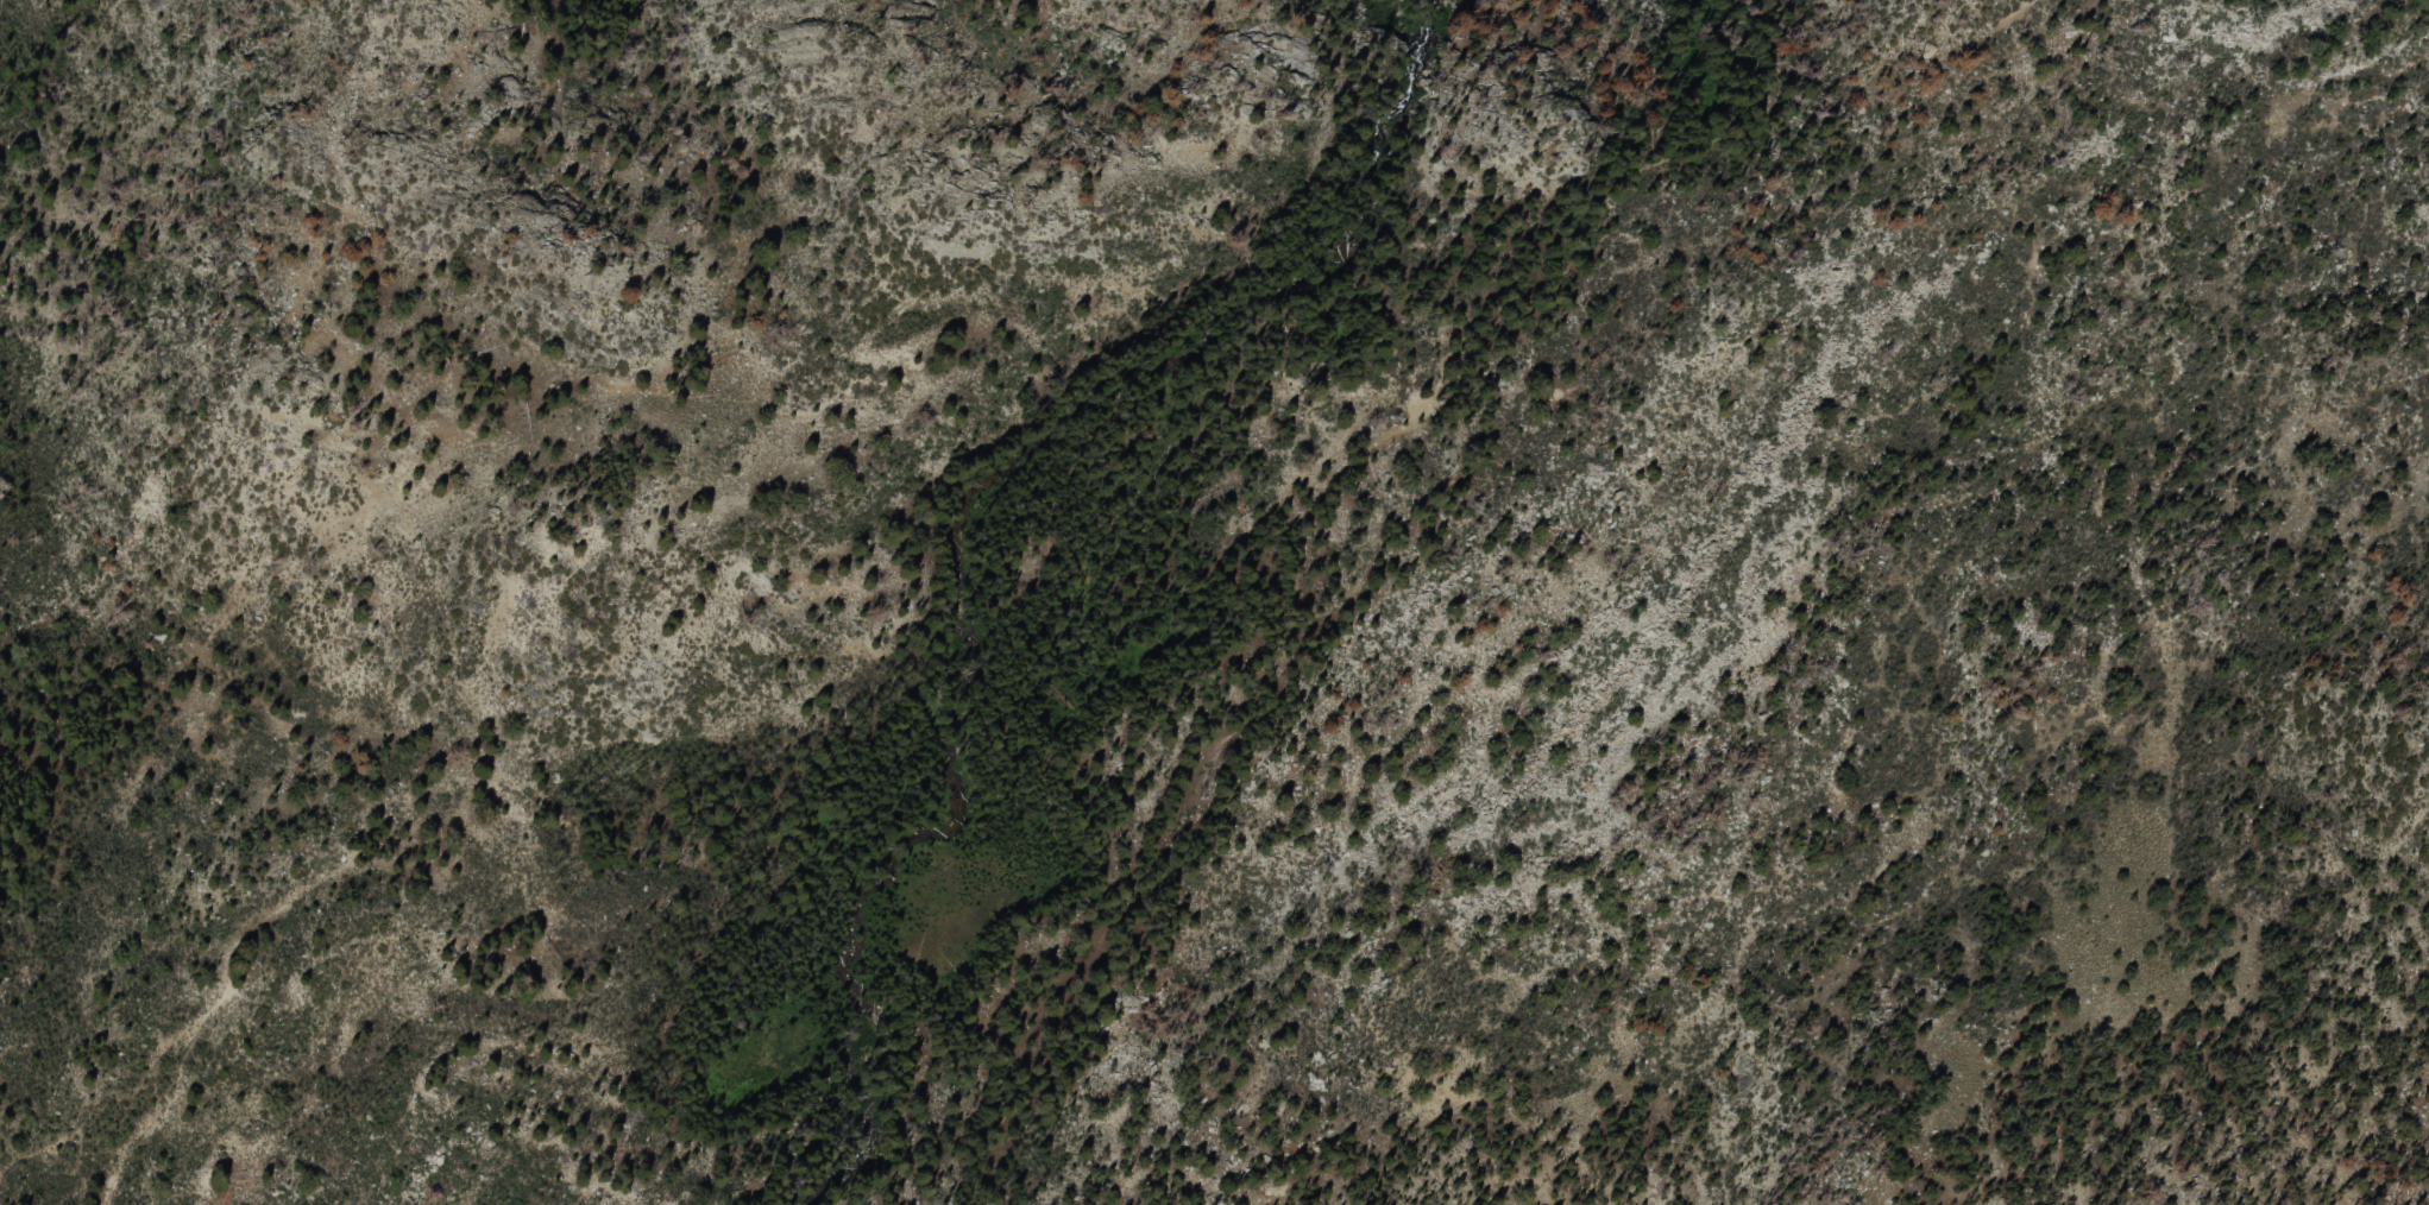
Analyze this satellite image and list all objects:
road: (1301, 569)

